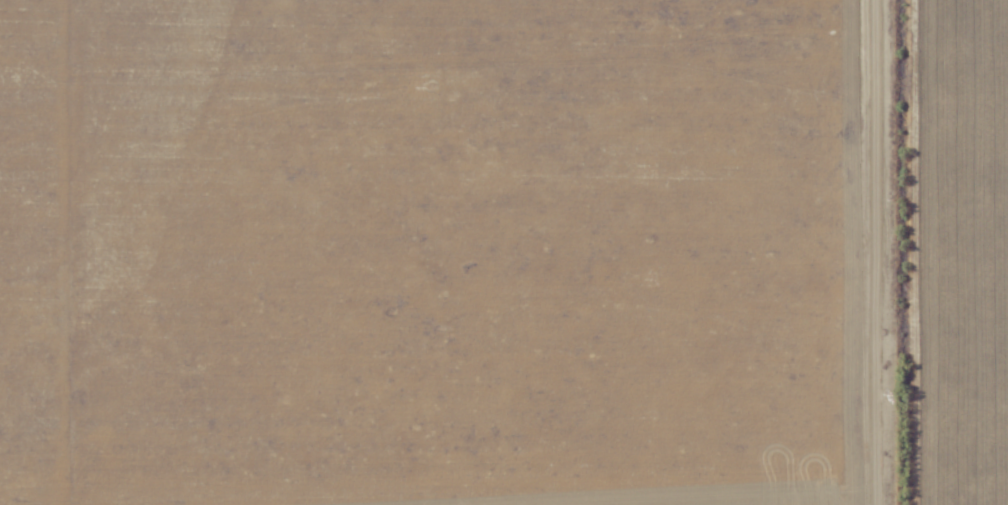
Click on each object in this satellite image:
road: (883, 252)

